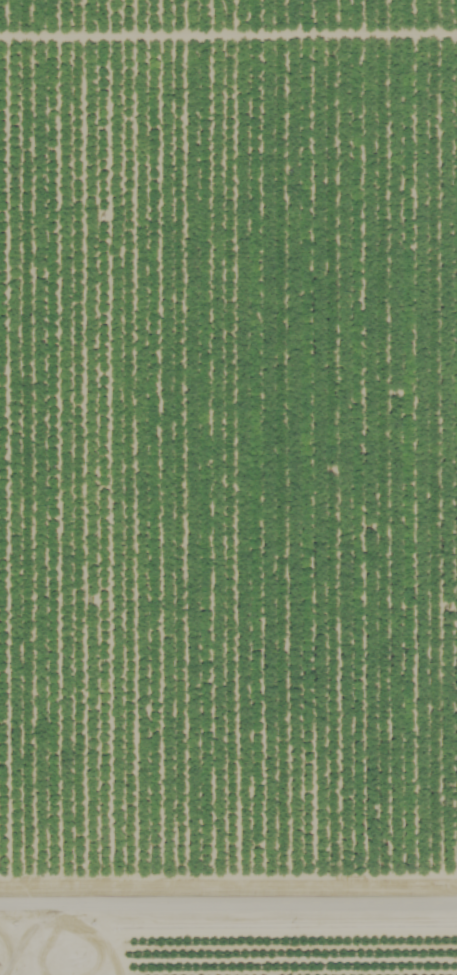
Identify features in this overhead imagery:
road: (228, 881)
road: (18, 925)
crop: (29, 952)
crop: (285, 952)

